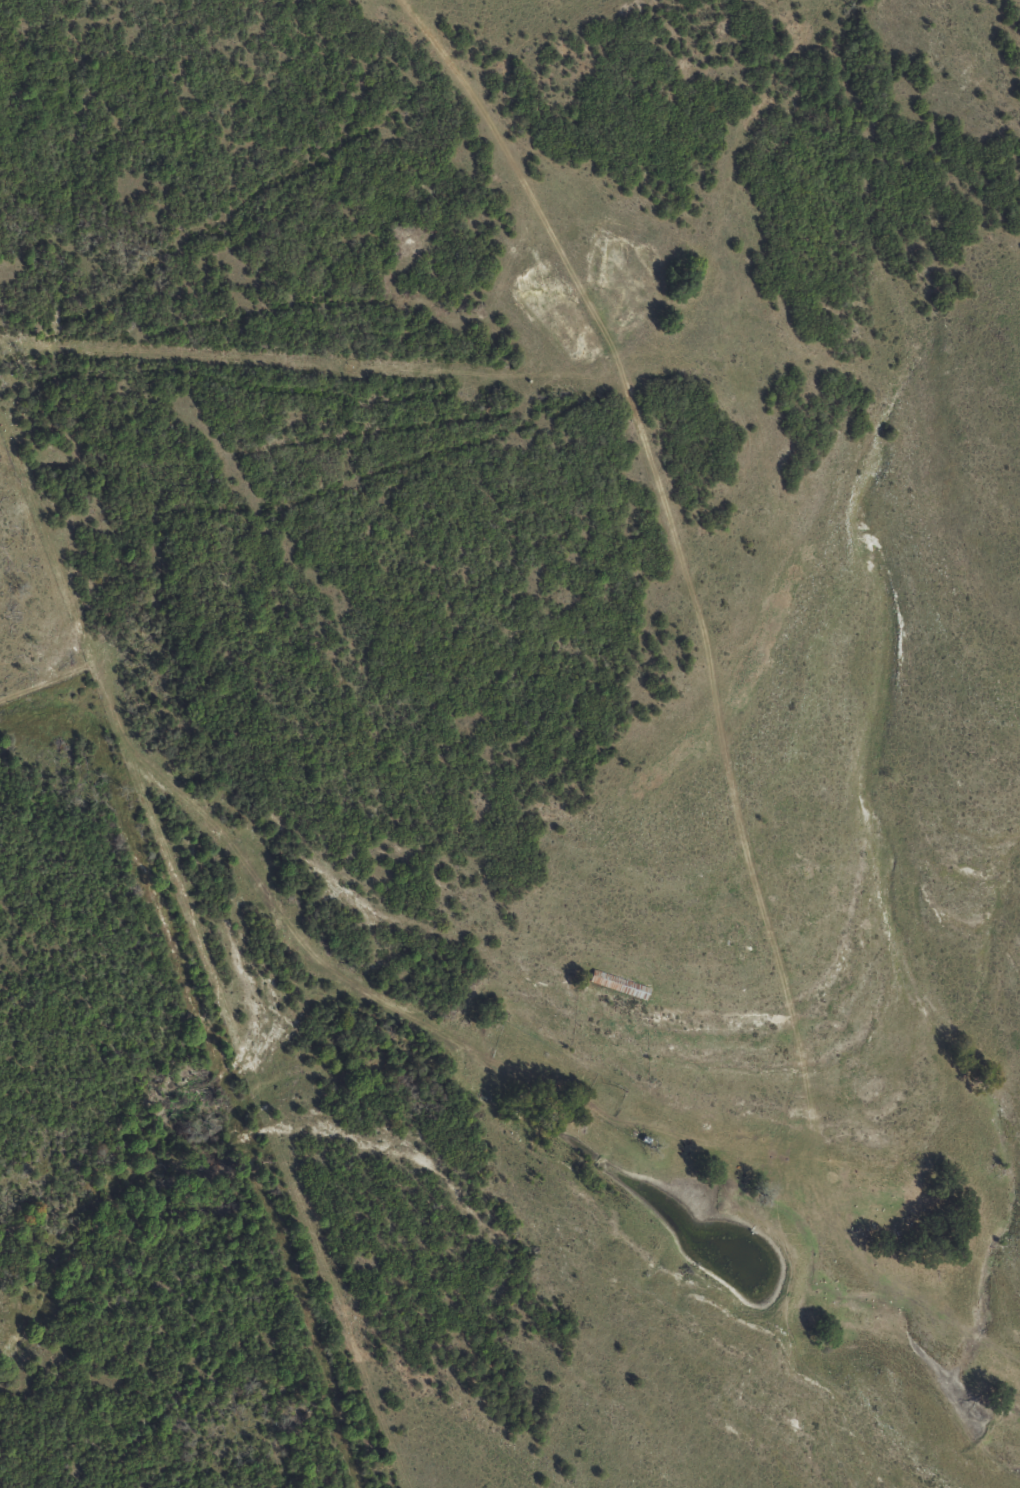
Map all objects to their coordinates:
building: (620, 984)

